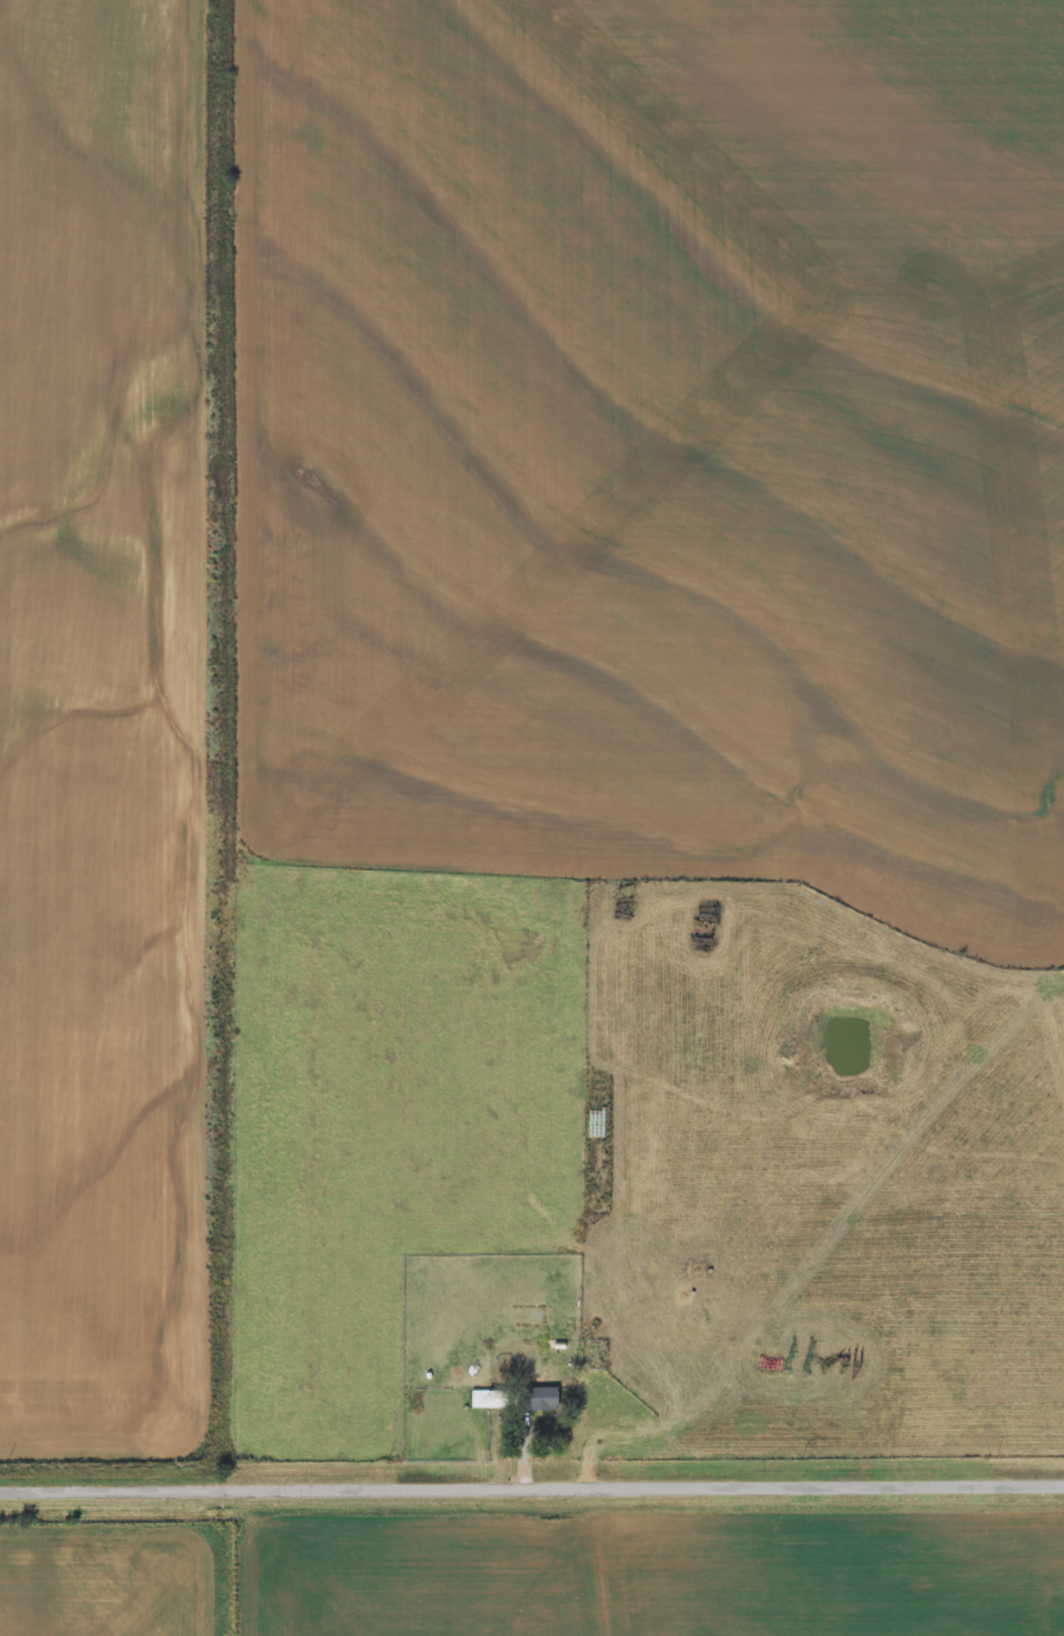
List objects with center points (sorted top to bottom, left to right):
building: (537, 1399)
road: (531, 1488)

